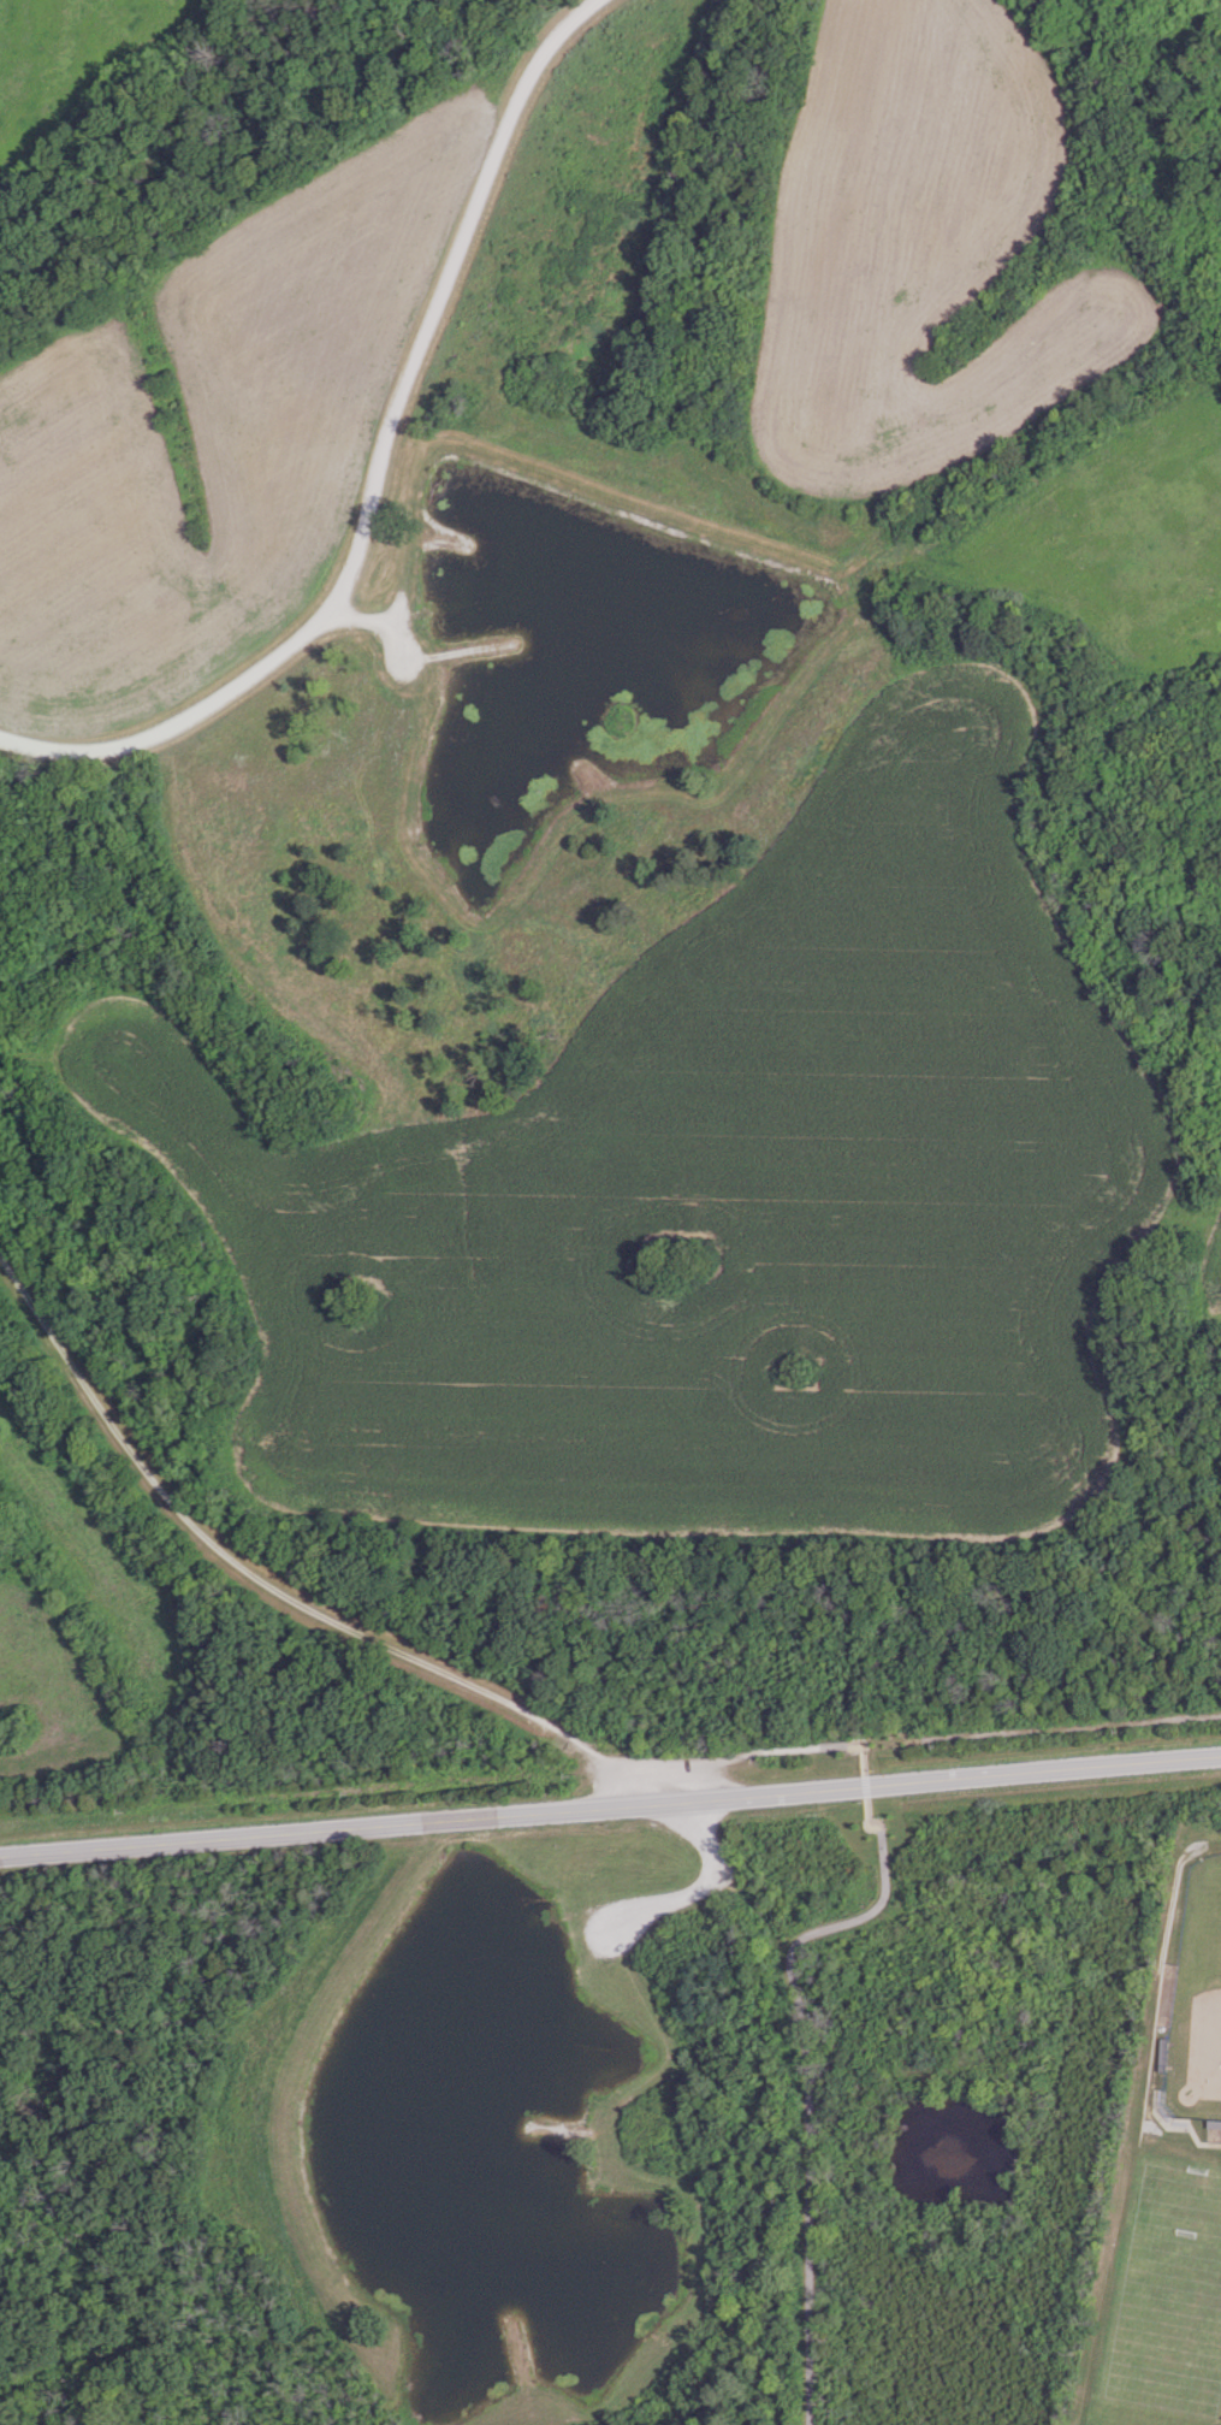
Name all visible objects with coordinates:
road: (375, 469)
dam: (748, 556)
road: (363, 1636)
road: (1039, 1728)
parking lot: (659, 1780)
road: (610, 1808)
road: (700, 1888)
parking lot: (614, 1926)
park: (1197, 1999)
road: (802, 2051)
dam: (308, 2088)
park: (1167, 2309)

